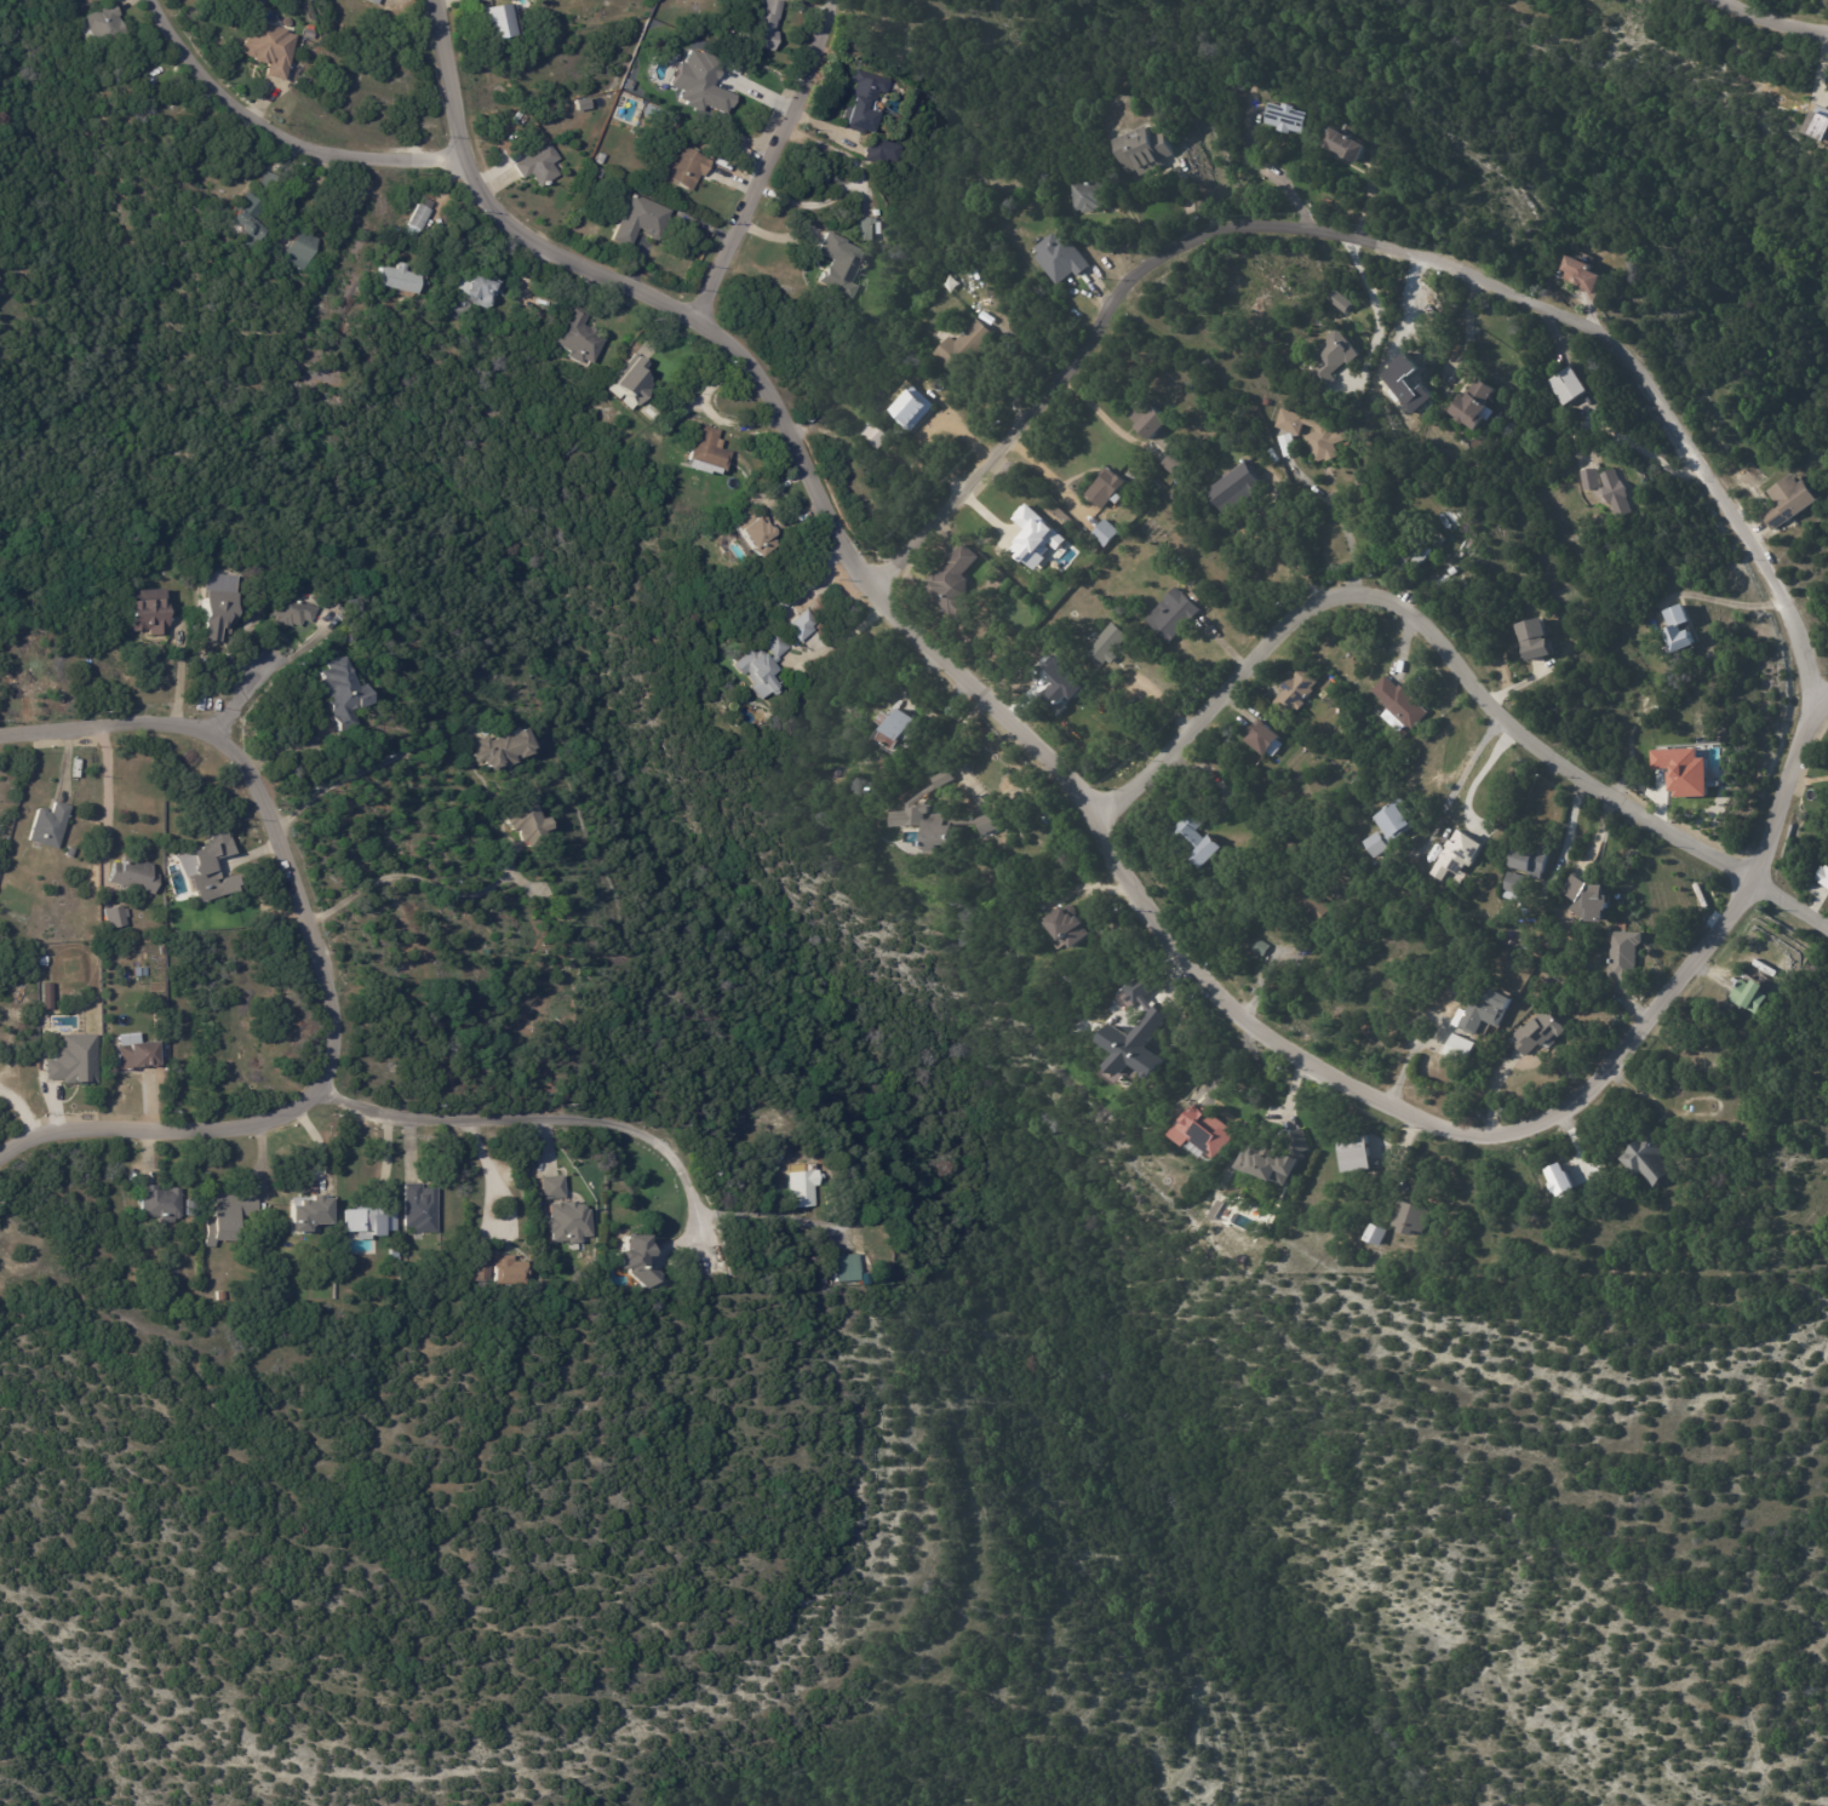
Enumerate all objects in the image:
building: (369, 1)
building: (1580, 1)
road: (1769, 11)
building: (492, 22)
building: (763, 24)
building: (98, 27)
building: (306, 33)
building: (268, 50)
building: (355, 82)
building: (856, 104)
building: (1284, 119)
road: (282, 131)
building: (1820, 132)
building: (1342, 147)
building: (1141, 150)
building: (879, 151)
road: (770, 154)
building: (600, 159)
building: (537, 165)
building: (681, 167)
building: (259, 183)
building: (213, 188)
building: (1089, 196)
building: (418, 216)
building: (638, 220)
building: (237, 224)
building: (865, 229)
road: (1375, 243)
building: (298, 248)
building: (1060, 258)
building: (838, 266)
building: (1580, 275)
building: (391, 280)
building: (472, 291)
building: (1339, 300)
road: (1379, 314)
building: (573, 338)
building: (963, 348)
building: (1333, 356)
building: (628, 383)
building: (1568, 385)
building: (1473, 406)
building: (910, 409)
building: (1147, 423)
building: (875, 436)
building: (1308, 436)
building: (1193, 446)
building: (701, 453)
building: (910, 460)
building: (1175, 463)
building: (1589, 480)
building: (1152, 486)
building: (1233, 487)
building: (1107, 488)
building: (1616, 493)
building: (1789, 500)
road: (1290, 532)
building: (1106, 533)
building: (1035, 535)
building: (750, 540)
building: (1415, 550)
building: (952, 584)
road: (1729, 602)
building: (144, 609)
building: (208, 610)
building: (291, 610)
building: (1173, 617)
building: (801, 627)
building: (1677, 631)
road: (843, 637)
building: (1535, 641)
building: (1107, 646)
road: (1452, 659)
building: (762, 666)
road: (267, 672)
road: (1823, 687)
building: (340, 690)
building: (1295, 693)
building: (1399, 704)
building: (890, 727)
building: (1261, 739)
building: (495, 749)
road: (365, 767)
road: (1463, 769)
building: (1681, 770)
road: (1477, 776)
road: (103, 790)
road: (1104, 814)
building: (941, 818)
building: (522, 820)
building: (50, 825)
building: (1389, 830)
building: (1196, 841)
building: (70, 853)
building: (1456, 854)
building: (1529, 860)
building: (207, 868)
building: (138, 876)
building: (1823, 877)
road: (409, 878)
building: (1513, 887)
building: (1587, 899)
building: (105, 905)
building: (1310, 906)
building: (118, 917)
building: (1064, 928)
building: (1100, 935)
building: (340, 939)
building: (556, 939)
building: (1260, 948)
building: (1623, 959)
building: (45, 962)
road: (325, 963)
road: (1266, 965)
building: (1136, 988)
building: (1752, 999)
building: (1482, 1014)
building: (1538, 1036)
building: (1135, 1044)
building: (1461, 1049)
building: (142, 1056)
building: (79, 1060)
road: (566, 1123)
building: (1200, 1136)
road: (385, 1149)
building: (1353, 1156)
building: (1255, 1159)
building: (1648, 1160)
building: (1558, 1179)
building: (551, 1187)
building: (802, 1188)
building: (165, 1204)
building: (194, 1209)
building: (417, 1209)
building: (306, 1211)
road: (773, 1215)
building: (229, 1217)
building: (1410, 1220)
building: (366, 1221)
building: (566, 1221)
building: (1374, 1238)
building: (634, 1261)
road: (44, 1267)
building: (475, 1268)
building: (846, 1268)
building: (504, 1271)
building: (222, 1296)

